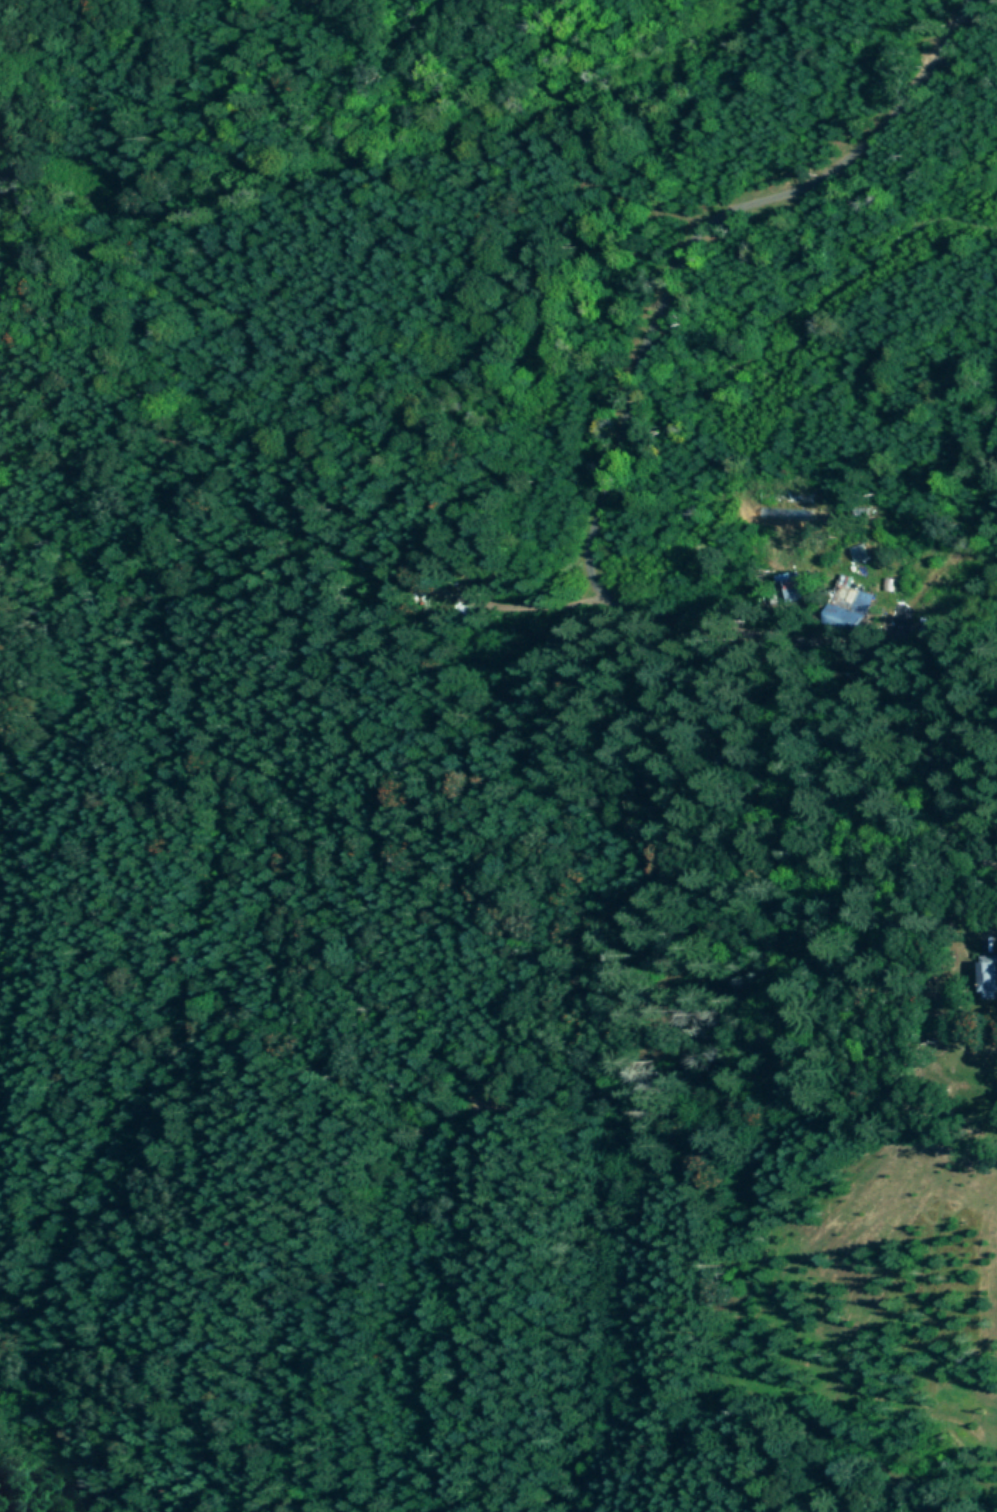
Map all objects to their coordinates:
road: (619, 439)
building: (854, 594)
building: (848, 617)
building: (991, 974)

